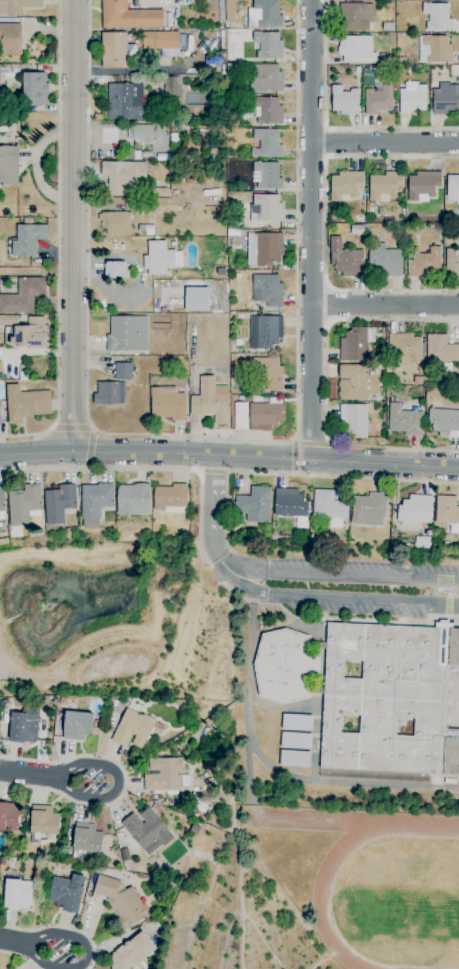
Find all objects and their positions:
building: (16, 5)
building: (263, 13)
building: (128, 15)
building: (355, 15)
building: (437, 15)
building: (10, 38)
building: (161, 41)
building: (268, 43)
building: (356, 48)
building: (434, 48)
building: (112, 49)
building: (265, 77)
building: (34, 87)
building: (173, 89)
building: (412, 97)
building: (377, 98)
building: (445, 98)
building: (343, 99)
building: (124, 100)
building: (267, 109)
building: (139, 132)
road: (386, 141)
building: (266, 142)
building: (8, 164)
building: (266, 174)
building: (122, 175)
building: (344, 183)
building: (422, 184)
building: (384, 185)
building: (452, 188)
building: (265, 207)
building: (115, 222)
road: (75, 223)
road: (313, 230)
building: (27, 238)
building: (263, 247)
building: (160, 257)
building: (345, 259)
building: (384, 259)
building: (452, 261)
building: (425, 262)
building: (116, 268)
building: (266, 288)
building: (22, 295)
building: (196, 298)
road: (386, 306)
building: (265, 330)
building: (127, 332)
building: (29, 333)
building: (353, 344)
building: (405, 347)
building: (440, 348)
building: (0, 369)
building: (122, 370)
building: (267, 371)
building: (355, 381)
building: (108, 392)
building: (210, 399)
building: (25, 402)
building: (166, 402)
building: (240, 414)
building: (263, 415)
building: (353, 419)
building: (404, 420)
building: (444, 421)
building: (0, 422)
road: (229, 457)
building: (169, 495)
building: (132, 498)
building: (58, 502)
building: (94, 502)
building: (289, 502)
building: (254, 503)
building: (1, 504)
building: (23, 504)
building: (328, 507)
building: (368, 509)
building: (414, 509)
building: (447, 511)
road: (211, 521)
building: (421, 541)
road: (349, 578)
road: (344, 599)
building: (281, 665)
road: (253, 667)
building: (394, 692)
building: (296, 721)
building: (24, 724)
building: (76, 724)
building: (132, 728)
building: (295, 739)
building: (294, 757)
road: (25, 772)
building: (163, 773)
road: (116, 785)
building: (8, 816)
building: (43, 819)
building: (146, 830)
building: (86, 837)
building: (67, 891)
building: (17, 893)
building: (121, 900)
road: (14, 942)
building: (131, 952)
road: (84, 955)

